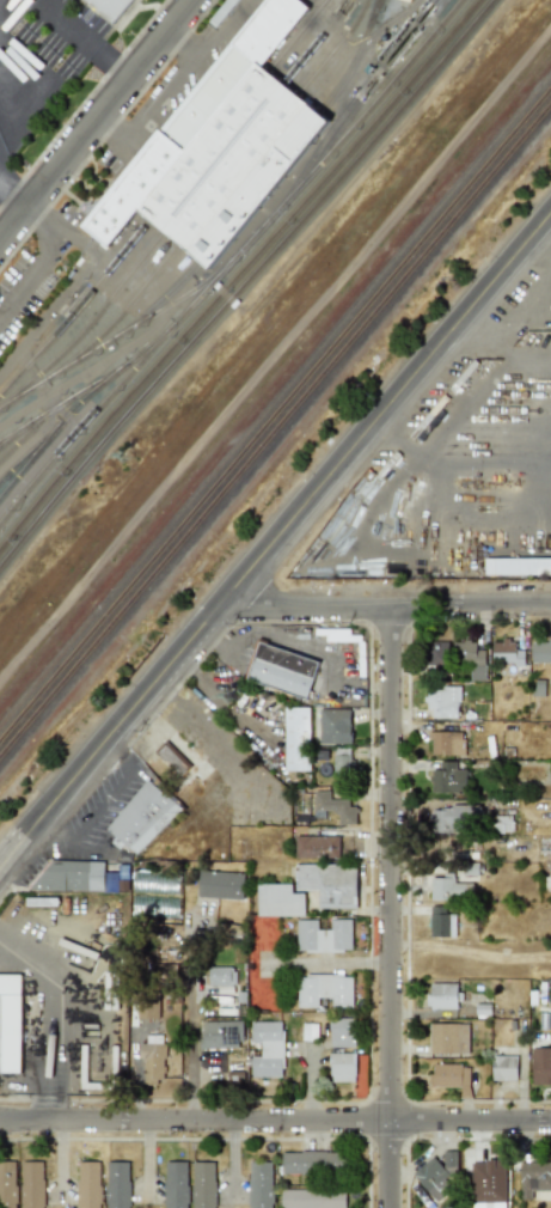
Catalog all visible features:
building: (408, 0)
building: (114, 7)
railway: (372, 8)
road: (10, 11)
railway: (295, 35)
railway: (314, 41)
road: (79, 42)
railway: (333, 48)
railway: (353, 59)
road: (23, 75)
railway: (351, 98)
road: (98, 122)
railway: (208, 144)
building: (218, 145)
railway: (222, 155)
railway: (238, 167)
railway: (258, 184)
road: (10, 203)
road: (539, 242)
railway: (228, 260)
road: (39, 261)
railway: (237, 272)
railway: (244, 280)
railway: (157, 299)
railway: (75, 306)
railway: (117, 315)
road: (522, 318)
railway: (87, 322)
railway: (122, 330)
road: (276, 361)
road: (479, 395)
railway: (63, 399)
railway: (75, 402)
railway: (275, 415)
railway: (33, 422)
railway: (14, 431)
railway: (275, 432)
road: (397, 439)
railway: (30, 449)
power tower: (128, 456)
road: (495, 462)
road: (274, 539)
building: (518, 566)
road: (385, 608)
building: (439, 652)
building: (508, 652)
building: (541, 652)
building: (471, 658)
building: (282, 670)
power tower: (232, 700)
building: (442, 702)
building: (261, 714)
building: (336, 725)
building: (313, 727)
building: (296, 738)
building: (439, 743)
building: (172, 758)
building: (342, 761)
building: (296, 776)
building: (448, 777)
road: (115, 789)
building: (335, 806)
building: (452, 817)
building: (142, 818)
building: (502, 824)
road: (72, 843)
building: (317, 846)
building: (459, 852)
building: (71, 876)
building: (221, 884)
building: (443, 887)
building: (310, 889)
road: (390, 908)
building: (441, 922)
building: (324, 934)
road: (327, 964)
building: (221, 976)
building: (324, 989)
building: (441, 995)
building: (147, 1007)
road: (62, 1017)
road: (189, 1021)
building: (10, 1024)
building: (343, 1032)
building: (220, 1035)
building: (448, 1038)
building: (267, 1048)
building: (152, 1061)
building: (540, 1064)
building: (343, 1066)
building: (503, 1067)
building: (454, 1076)
road: (275, 1119)
road: (232, 1160)
building: (312, 1163)
building: (436, 1173)
building: (535, 1180)
building: (7, 1184)
building: (31, 1184)
building: (88, 1184)
building: (176, 1184)
building: (203, 1184)
building: (261, 1184)
building: (488, 1184)
building: (118, 1185)
building: (313, 1197)

